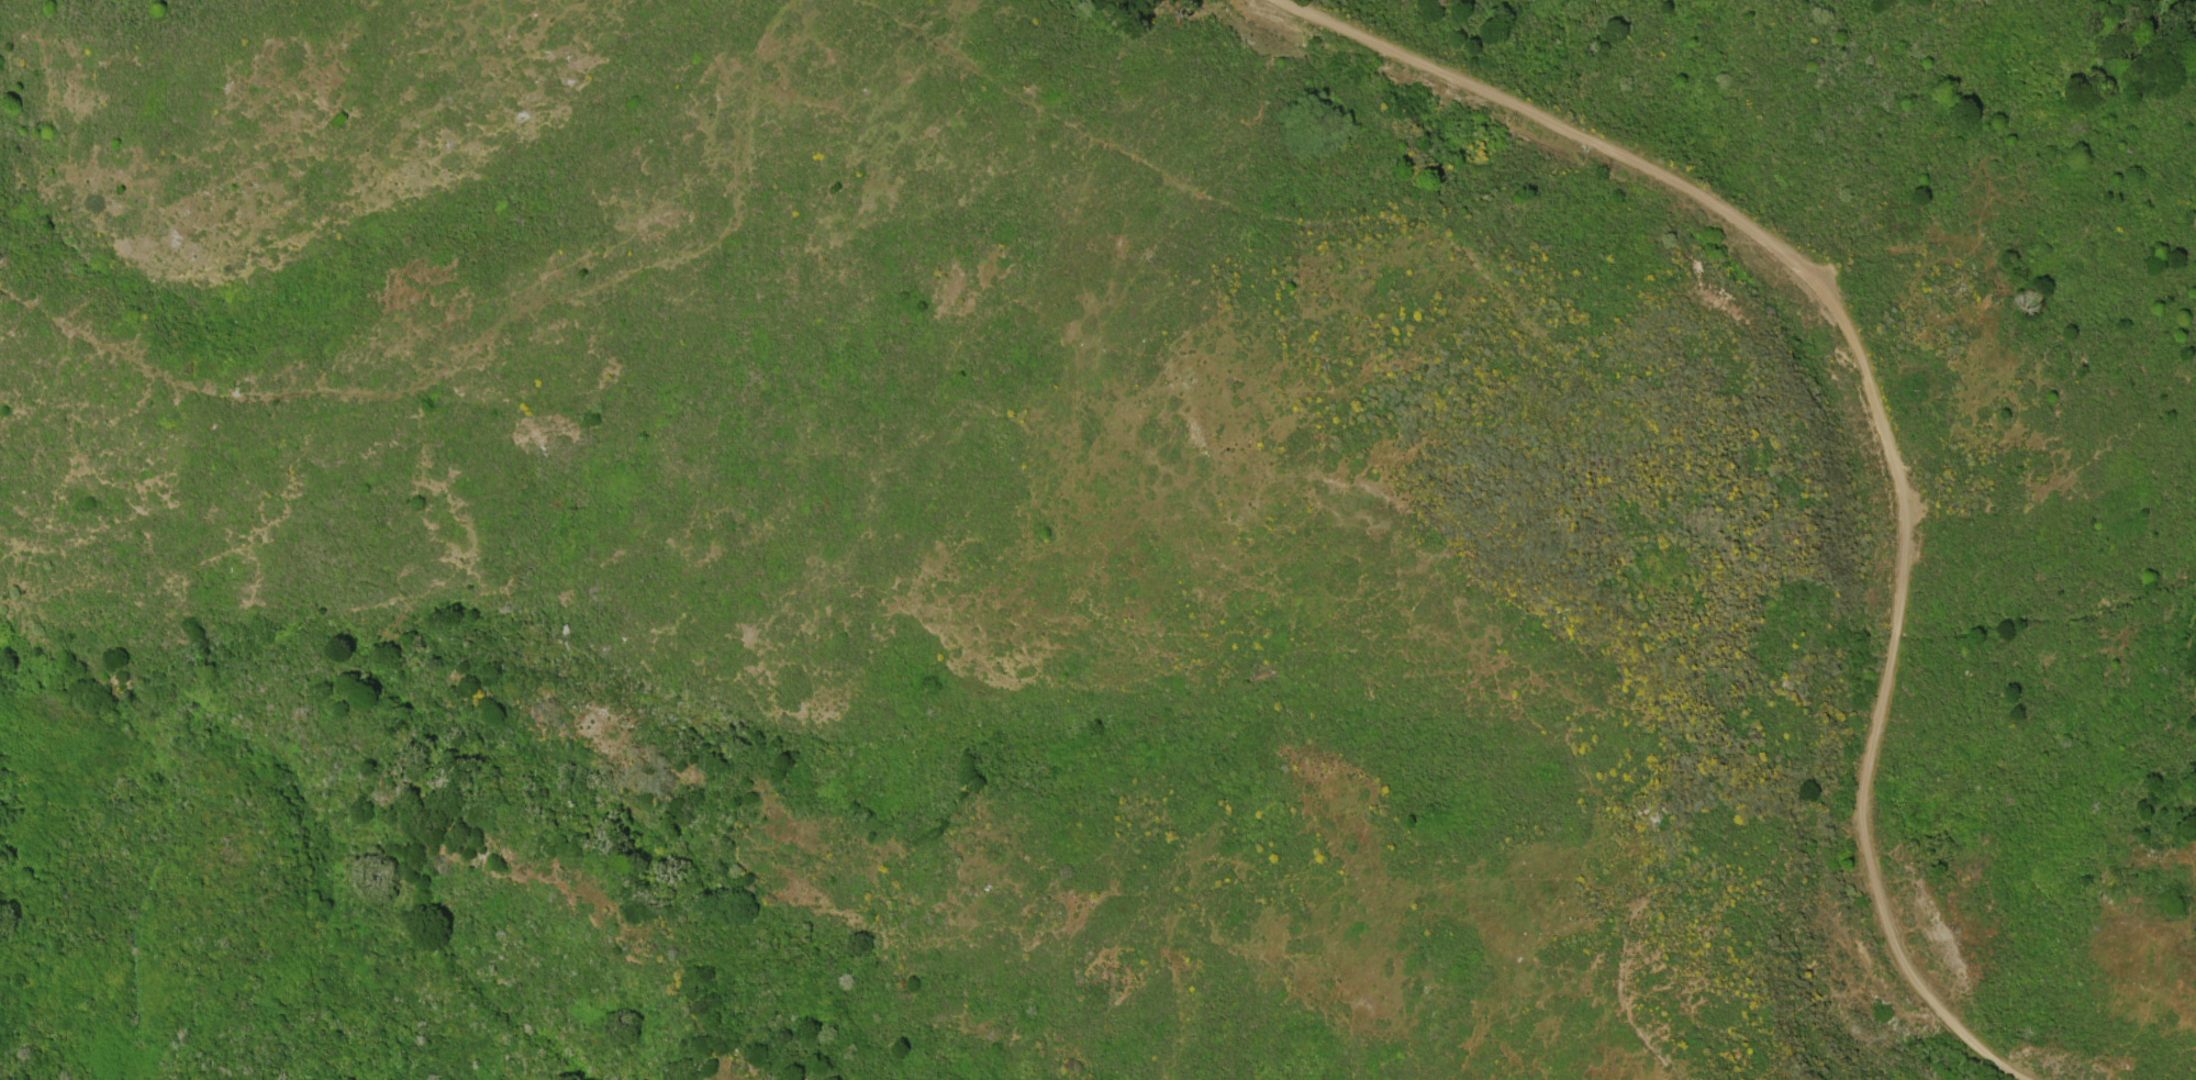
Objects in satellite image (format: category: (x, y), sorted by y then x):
road: (1284, 4)
road: (1876, 412)

